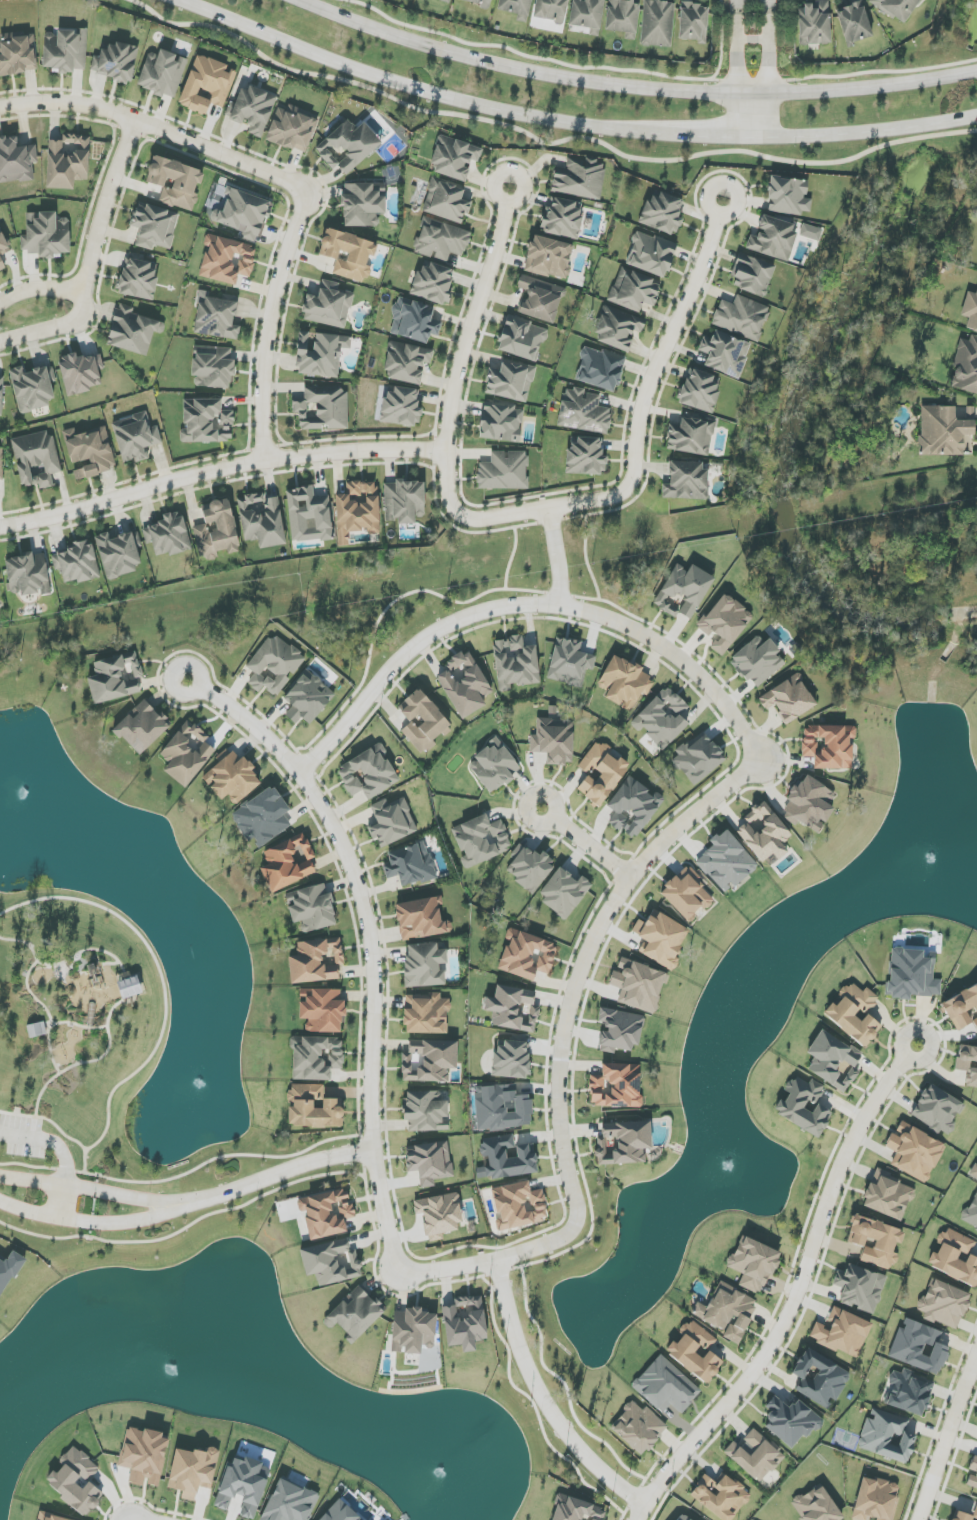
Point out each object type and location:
building: (445, 1)
building: (478, 2)
building: (516, 8)
building: (896, 8)
building: (551, 10)
building: (586, 13)
building: (623, 17)
road: (735, 19)
road: (766, 19)
building: (693, 22)
building: (657, 23)
building: (814, 23)
building: (854, 23)
road: (750, 40)
building: (65, 50)
building: (17, 54)
building: (115, 62)
road: (735, 69)
road: (766, 69)
building: (162, 73)
building: (207, 85)
road: (633, 87)
road: (417, 90)
building: (253, 110)
road: (751, 117)
road: (156, 126)
building: (292, 129)
road: (864, 134)
road: (711, 139)
road: (546, 144)
building: (347, 146)
building: (454, 158)
building: (16, 161)
building: (67, 161)
building: (580, 178)
building: (175, 182)
building: (788, 196)
building: (446, 201)
road: (106, 203)
building: (363, 204)
building: (662, 213)
building: (244, 214)
building: (562, 218)
building: (154, 226)
building: (811, 232)
building: (45, 235)
building: (773, 238)
building: (440, 240)
building: (3, 243)
building: (348, 254)
building: (651, 254)
building: (549, 257)
building: (226, 259)
building: (1, 265)
building: (752, 275)
building: (138, 279)
building: (433, 283)
building: (634, 290)
building: (540, 299)
road: (82, 302)
building: (328, 306)
building: (970, 311)
building: (216, 317)
building: (742, 317)
building: (414, 321)
road: (271, 325)
building: (617, 328)
building: (132, 330)
building: (522, 339)
road: (462, 348)
building: (320, 354)
building: (725, 354)
building: (406, 363)
building: (966, 366)
building: (213, 367)
building: (600, 369)
building: (81, 373)
building: (510, 381)
building: (33, 387)
building: (700, 391)
building: (1, 392)
building: (401, 407)
building: (322, 408)
building: (583, 411)
building: (206, 421)
building: (501, 423)
road: (642, 427)
building: (946, 432)
building: (691, 436)
building: (135, 437)
building: (89, 452)
building: (585, 457)
building: (36, 459)
building: (1, 463)
road: (221, 468)
building: (504, 471)
building: (686, 481)
building: (404, 501)
building: (357, 510)
building: (309, 515)
building: (261, 520)
building: (216, 530)
building: (168, 535)
building: (119, 553)
road: (561, 556)
building: (77, 563)
building: (28, 574)
building: (683, 591)
road: (529, 604)
building: (725, 623)
building: (757, 661)
building: (569, 662)
building: (515, 663)
building: (274, 665)
building: (115, 678)
building: (625, 683)
building: (464, 684)
building: (308, 698)
building: (789, 699)
building: (662, 718)
building: (436, 722)
building: (142, 727)
building: (553, 741)
building: (829, 746)
building: (187, 753)
building: (698, 758)
building: (494, 766)
building: (368, 773)
building: (611, 774)
building: (232, 777)
building: (809, 803)
building: (633, 807)
building: (262, 817)
building: (391, 822)
building: (765, 834)
building: (481, 840)
road: (587, 842)
fountain: (925, 859)
building: (288, 862)
building: (726, 862)
building: (410, 864)
building: (530, 869)
building: (564, 892)
building: (687, 894)
building: (313, 908)
building: (421, 919)
building: (661, 938)
building: (527, 955)
road: (583, 959)
building: (316, 961)
road: (62, 963)
building: (424, 965)
building: (911, 974)
road: (159, 980)
building: (638, 985)
road: (372, 986)
building: (129, 987)
road: (32, 994)
building: (962, 1008)
building: (513, 1009)
building: (322, 1010)
building: (426, 1014)
building: (839, 1014)
road: (55, 1024)
building: (620, 1030)
building: (317, 1058)
building: (511, 1060)
building: (429, 1061)
building: (833, 1061)
building: (968, 1063)
road: (77, 1064)
building: (616, 1086)
building: (804, 1106)
building: (313, 1107)
building: (502, 1108)
building: (937, 1110)
building: (425, 1111)
road: (48, 1119)
road: (50, 1141)
building: (624, 1143)
building: (914, 1152)
building: (507, 1157)
road: (86, 1161)
building: (430, 1162)
fountain: (723, 1162)
road: (193, 1170)
building: (973, 1172)
road: (274, 1175)
road: (88, 1188)
building: (888, 1196)
road: (59, 1200)
building: (518, 1205)
building: (326, 1213)
building: (971, 1214)
building: (439, 1215)
road: (88, 1221)
building: (875, 1241)
road: (539, 1247)
building: (955, 1257)
building: (331, 1262)
building: (753, 1264)
building: (9, 1271)
building: (860, 1288)
road: (794, 1294)
building: (944, 1304)
building: (727, 1311)
building: (355, 1313)
building: (465, 1323)
building: (413, 1331)
building: (842, 1333)
building: (919, 1347)
building: (695, 1351)
building: (819, 1379)
building: (666, 1386)
building: (909, 1393)
road: (542, 1399)
building: (791, 1421)
building: (638, 1428)
road: (946, 1434)
building: (887, 1436)
building: (144, 1456)
building: (755, 1456)
building: (193, 1471)
building: (973, 1474)
building: (76, 1481)
building: (242, 1486)
building: (721, 1496)
building: (876, 1499)
building: (290, 1502)
building: (816, 1506)
building: (577, 1510)
building: (340, 1512)
building: (964, 1515)
building: (52, 1518)
building: (681, 1518)

